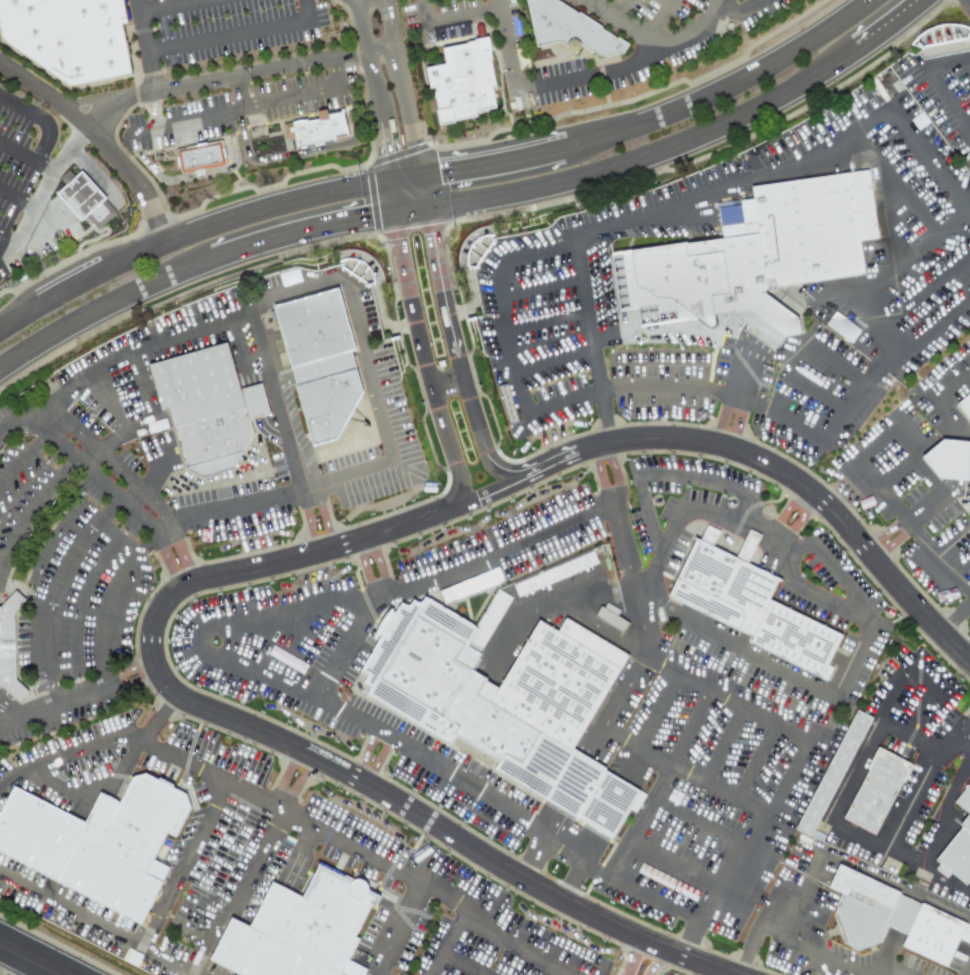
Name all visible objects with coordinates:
road: (969, 0)
road: (172, 6)
road: (617, 8)
road: (306, 9)
road: (737, 11)
road: (919, 11)
road: (927, 11)
road: (450, 19)
road: (659, 19)
building: (572, 29)
building: (80, 36)
road: (229, 36)
road: (891, 38)
road: (658, 45)
road: (148, 46)
road: (361, 60)
road: (969, 60)
road: (943, 65)
road: (334, 71)
road: (238, 76)
building: (459, 77)
road: (716, 80)
road: (408, 82)
road: (542, 86)
road: (239, 92)
road: (943, 104)
road: (153, 111)
road: (231, 113)
road: (41, 117)
building: (318, 128)
road: (93, 135)
road: (377, 145)
road: (305, 148)
road: (497, 151)
traffic signals: (379, 152)
road: (26, 155)
building: (202, 157)
road: (929, 158)
traffic signals: (448, 161)
road: (662, 163)
road: (403, 168)
road: (194, 173)
road: (893, 188)
road: (42, 191)
road: (430, 191)
road: (704, 194)
road: (385, 198)
road: (16, 199)
building: (83, 200)
road: (238, 204)
road: (412, 222)
traffic signals: (368, 229)
traffic signals: (440, 237)
road: (7, 240)
road: (301, 243)
building: (754, 254)
road: (907, 265)
road: (337, 275)
road: (66, 276)
road: (541, 288)
road: (450, 296)
road: (16, 306)
road: (104, 318)
road: (548, 322)
building: (841, 327)
road: (878, 327)
road: (508, 335)
road: (592, 341)
road: (141, 349)
road: (892, 355)
road: (555, 360)
building: (303, 364)
road: (843, 365)
road: (419, 370)
road: (743, 370)
road: (447, 380)
road: (680, 385)
road: (818, 393)
road: (932, 398)
building: (965, 405)
building: (207, 408)
road: (43, 413)
road: (721, 417)
road: (738, 422)
road: (136, 423)
road: (18, 424)
road: (488, 433)
road: (109, 437)
road: (874, 446)
road: (86, 452)
road: (23, 457)
road: (954, 460)
road: (916, 461)
building: (951, 461)
road: (553, 464)
road: (615, 472)
road: (894, 472)
road: (599, 475)
road: (152, 479)
road: (804, 485)
road: (134, 487)
road: (487, 493)
road: (129, 495)
road: (118, 497)
road: (929, 500)
road: (239, 506)
road: (30, 507)
road: (681, 509)
road: (323, 516)
road: (307, 521)
road: (910, 528)
road: (165, 532)
road: (884, 533)
road: (949, 539)
road: (894, 542)
road: (493, 552)
road: (962, 567)
road: (55, 592)
road: (815, 594)
road: (103, 600)
building: (748, 603)
road: (249, 612)
building: (610, 616)
road: (288, 617)
road: (955, 617)
building: (13, 648)
road: (152, 648)
road: (128, 668)
road: (133, 681)
road: (843, 681)
road: (923, 682)
building: (497, 691)
flagpole: (342, 695)
road: (54, 703)
road: (658, 711)
road: (884, 715)
road: (759, 718)
road: (964, 724)
road: (967, 733)
road: (967, 736)
road: (722, 745)
road: (651, 750)
road: (362, 754)
road: (64, 756)
road: (182, 758)
road: (376, 762)
road: (755, 762)
road: (430, 766)
building: (833, 775)
road: (280, 776)
road: (296, 783)
road: (659, 783)
road: (915, 786)
building: (878, 791)
road: (844, 794)
road: (88, 800)
building: (965, 800)
road: (696, 820)
building: (915, 823)
road: (932, 839)
building: (123, 848)
road: (298, 853)
building: (958, 855)
road: (537, 858)
road: (673, 861)
road: (855, 867)
road: (573, 879)
road: (426, 888)
road: (239, 890)
road: (170, 892)
road: (744, 897)
road: (71, 908)
road: (578, 909)
building: (892, 918)
road: (391, 927)
road: (752, 931)
building: (297, 932)
road: (448, 943)
road: (633, 957)
road: (31, 958)
road: (653, 961)
road: (969, 961)
road: (462, 964)
road: (21, 965)
road: (965, 966)
road: (846, 969)
road: (893, 970)
road: (891, 972)

